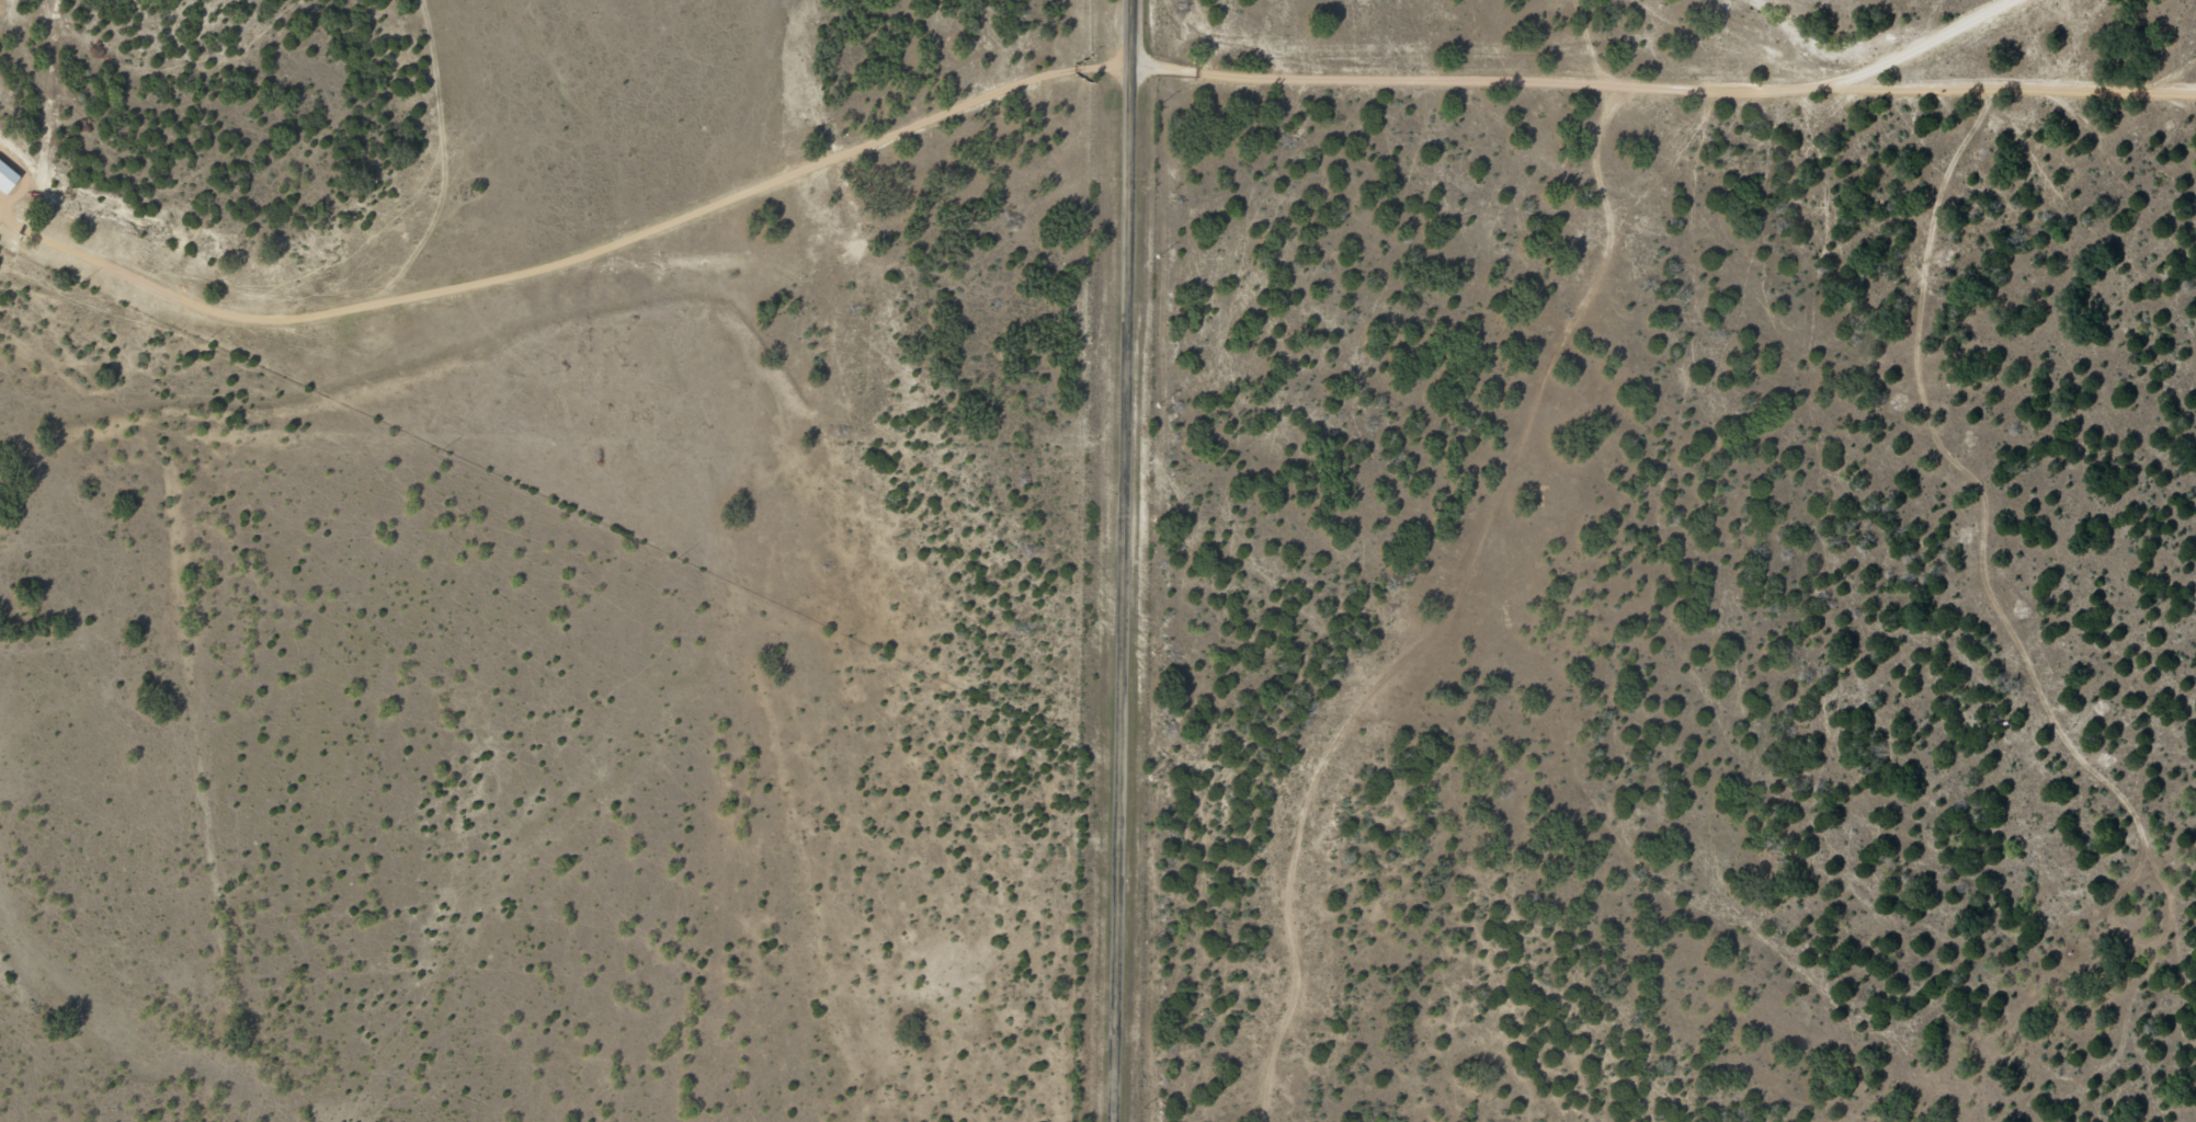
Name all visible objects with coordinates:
road: (1570, 81)
road: (2005, 90)
road: (558, 456)
road: (1124, 561)

